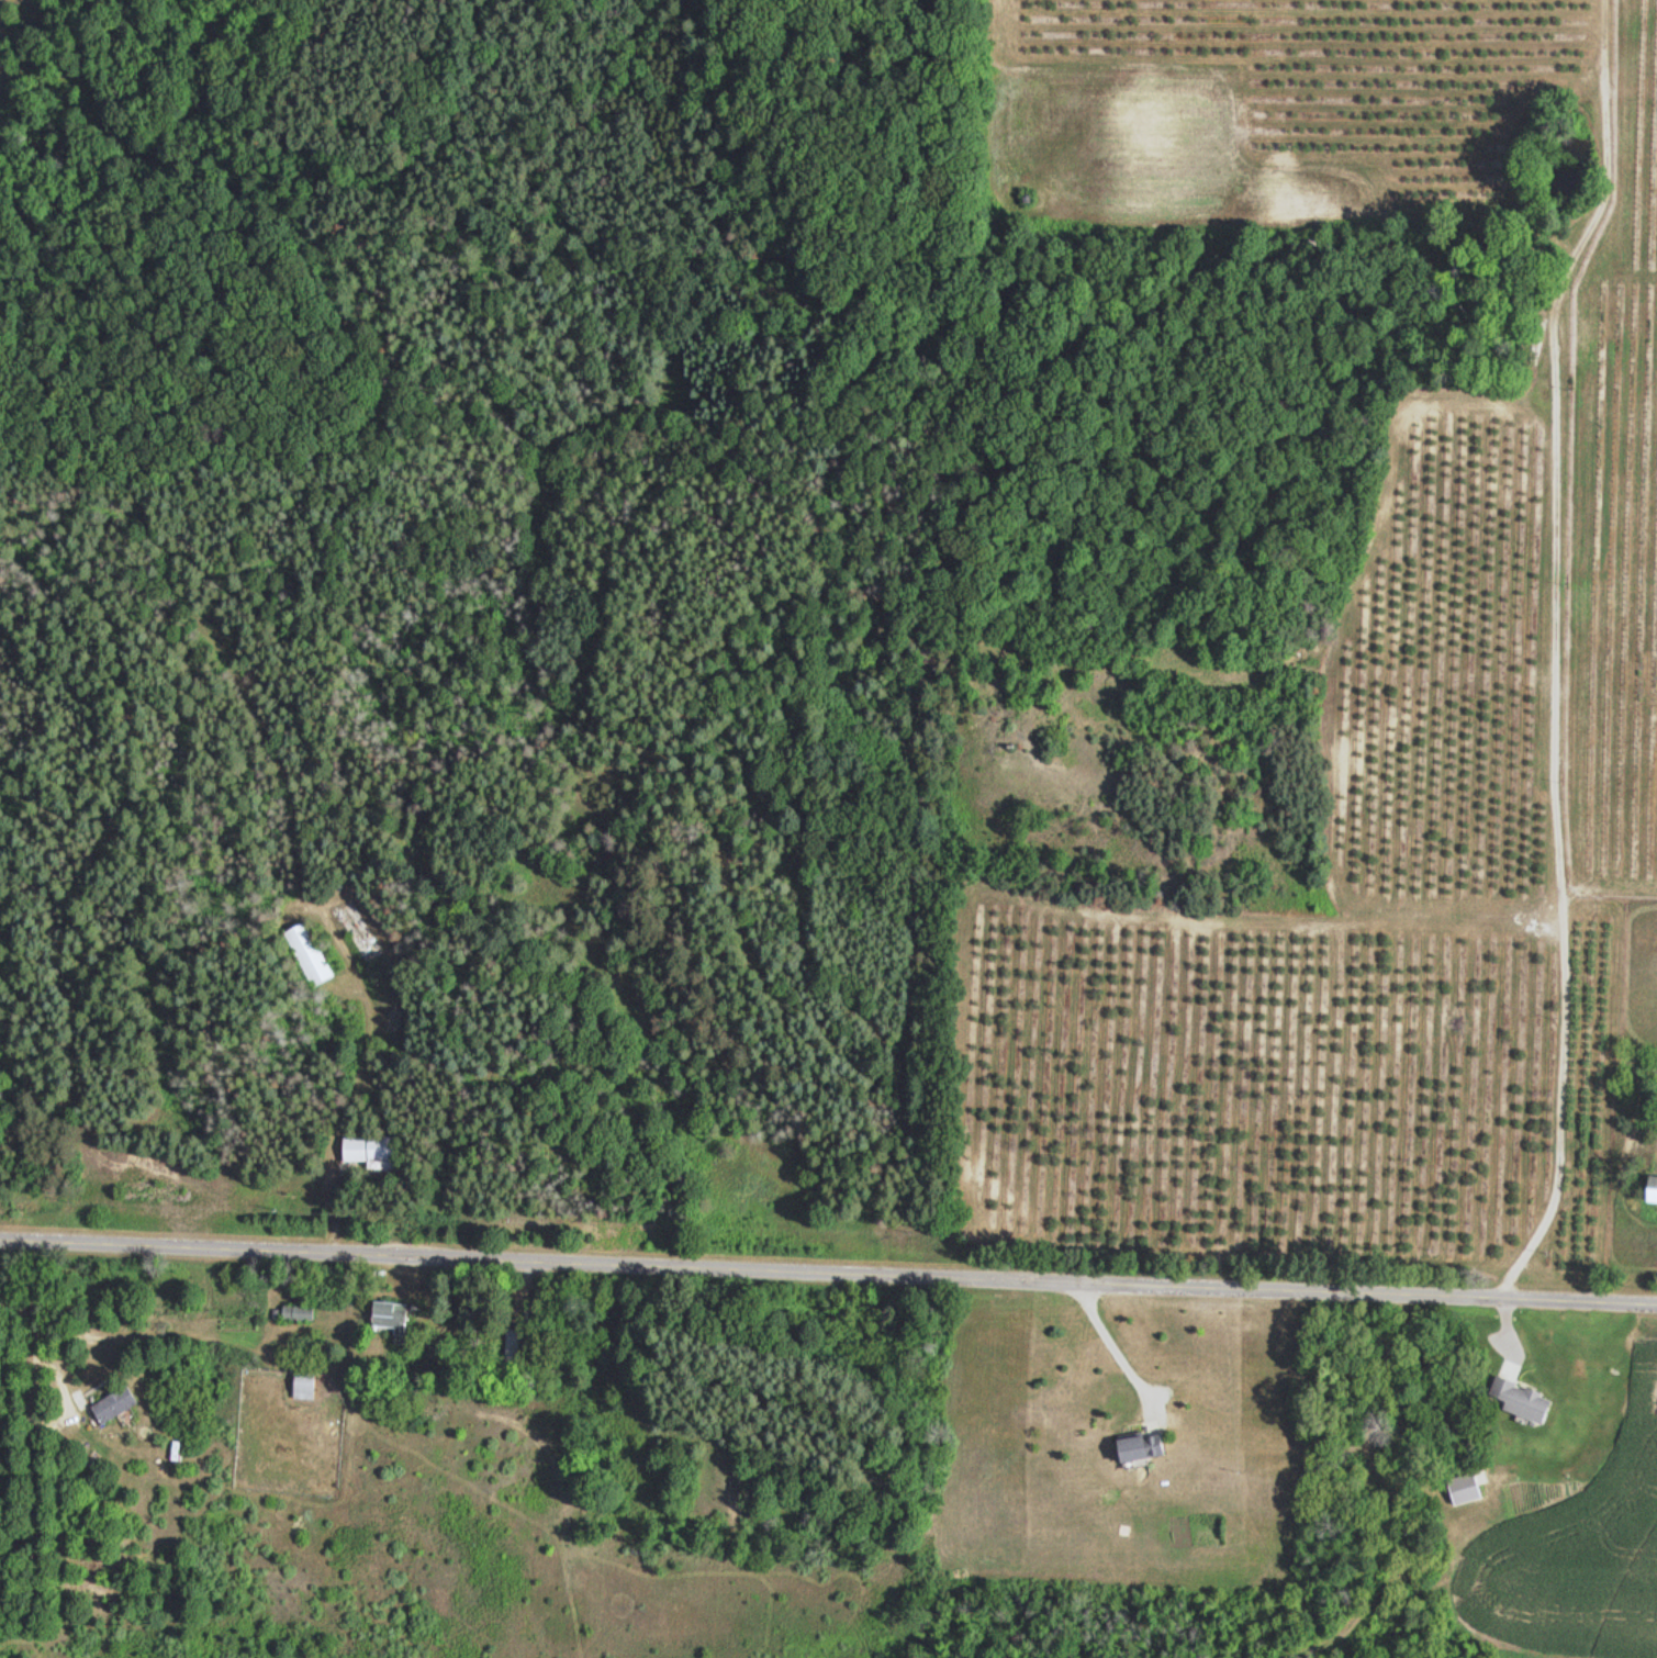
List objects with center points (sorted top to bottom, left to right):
building: (1568, 788)
building: (305, 954)
building: (371, 1156)
building: (1647, 1190)
road: (828, 1263)
building: (291, 1314)
building: (390, 1321)
building: (300, 1388)
building: (1515, 1401)
building: (108, 1407)
building: (1130, 1449)
building: (1460, 1489)

